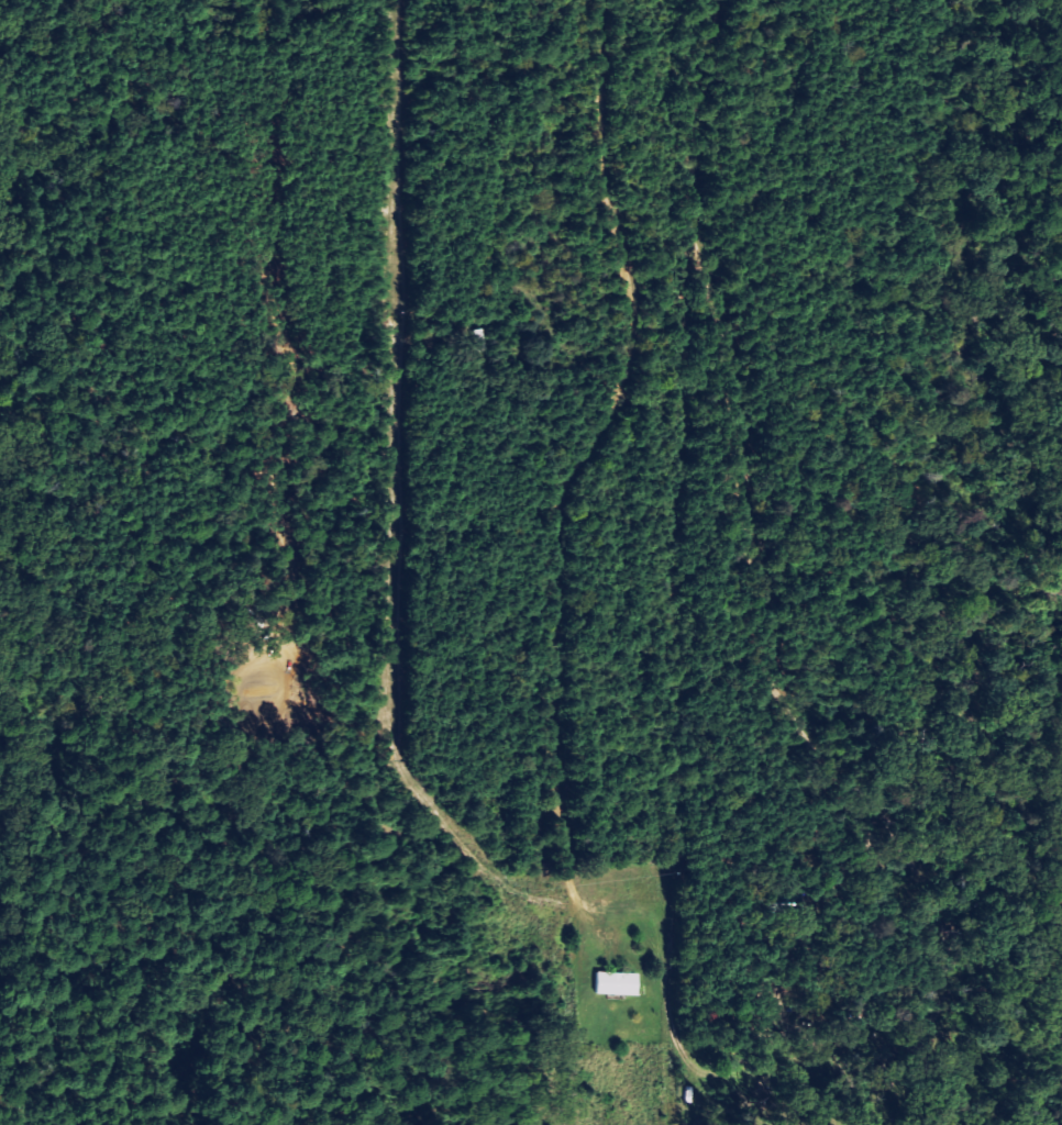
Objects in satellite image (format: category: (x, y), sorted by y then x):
road: (401, 169)
building: (618, 983)

